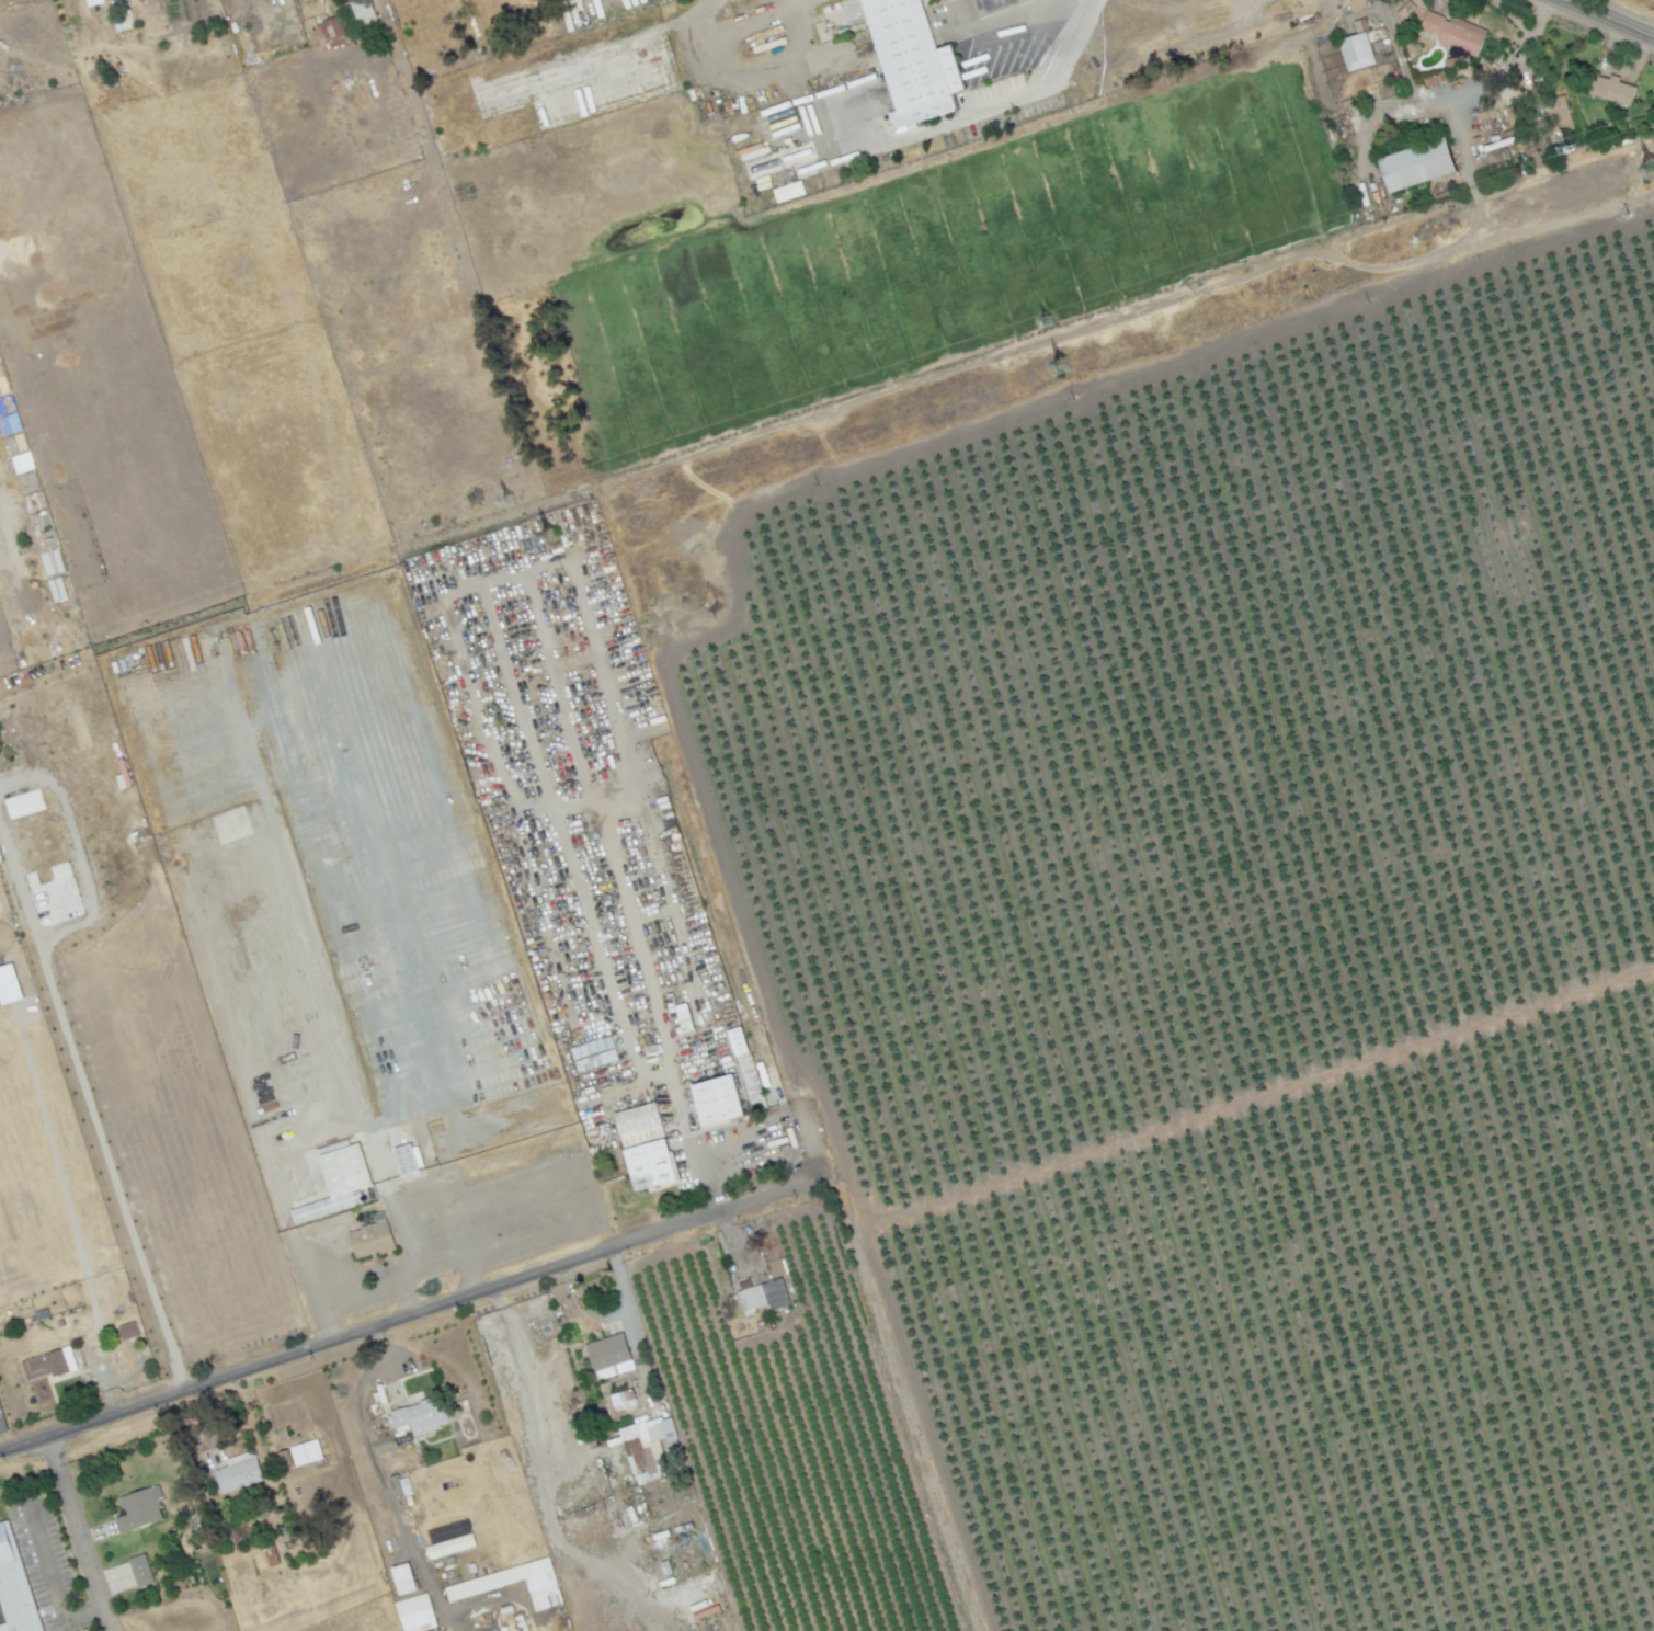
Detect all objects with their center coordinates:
building: (94, 2)
building: (1355, 4)
building: (362, 12)
road: (1608, 19)
building: (331, 32)
building: (1456, 33)
building: (1357, 49)
building: (911, 57)
road: (1478, 81)
building: (1609, 89)
building: (1558, 114)
road: (904, 128)
power tower: (1585, 144)
building: (1416, 162)
power tower: (1652, 171)
building: (787, 191)
power tower: (1048, 320)
power tower: (1066, 365)
building: (21, 463)
power tower: (504, 502)
power tower: (549, 534)
road: (567, 571)
building: (55, 589)
building: (22, 803)
railway: (1378, 816)
building: (8, 984)
building: (683, 1017)
building: (592, 1053)
building: (742, 1059)
road: (652, 1068)
building: (716, 1100)
building: (714, 1121)
building: (638, 1125)
building: (639, 1145)
building: (407, 1159)
road: (106, 1163)
building: (649, 1165)
building: (340, 1182)
building: (648, 1186)
building: (370, 1240)
building: (762, 1296)
road: (412, 1315)
building: (126, 1331)
building: (608, 1356)
building: (48, 1364)
building: (623, 1400)
building: (419, 1416)
road: (362, 1435)
building: (645, 1446)
building: (305, 1452)
building: (237, 1472)
building: (401, 1486)
building: (142, 1510)
road: (75, 1535)
building: (142, 1571)
building: (402, 1578)
road: (48, 1582)
building: (19, 1584)
building: (512, 1584)
building: (414, 1613)

